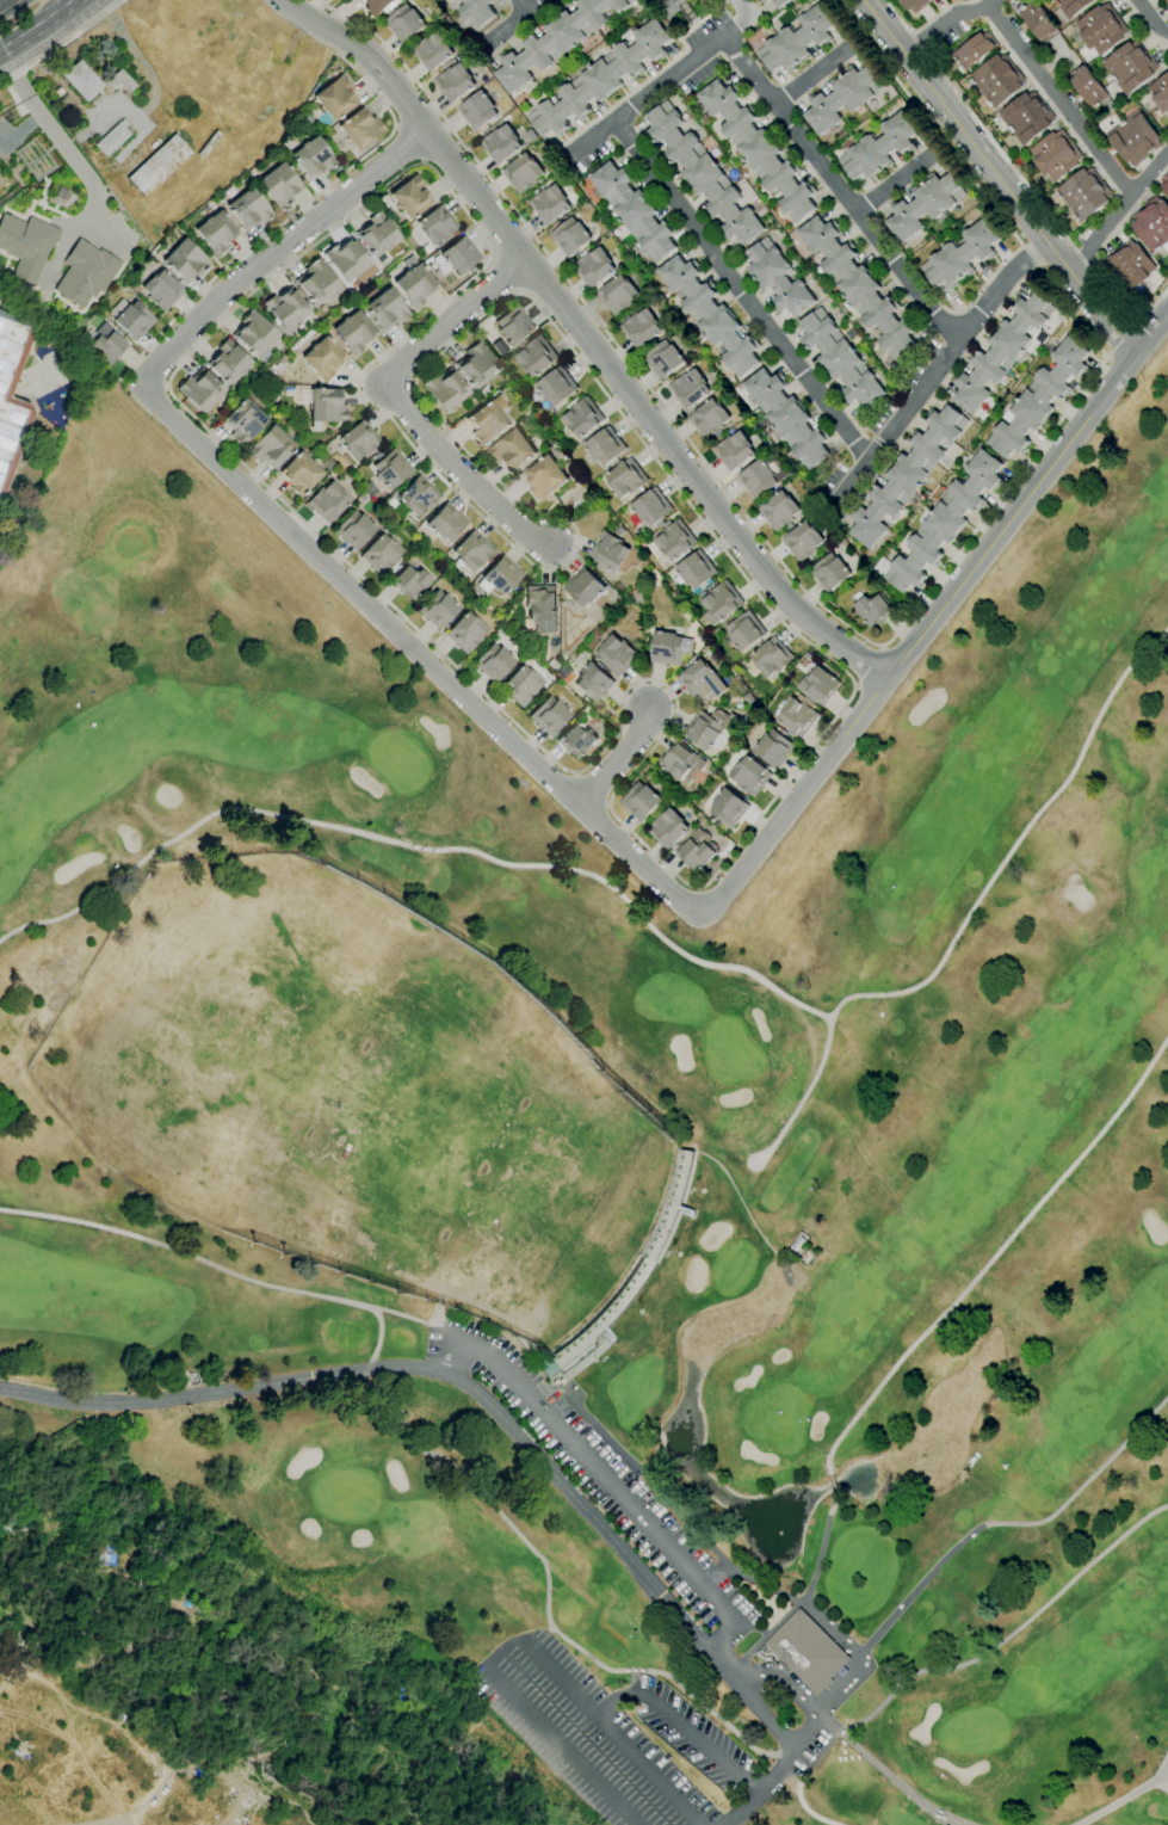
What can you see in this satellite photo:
building: (449, 0)
building: (762, 1)
building: (779, 2)
building: (1166, 2)
road: (6, 4)
building: (916, 5)
building: (378, 6)
building: (1073, 6)
road: (526, 8)
building: (668, 8)
road: (737, 11)
building: (476, 12)
road: (948, 18)
road: (1151, 18)
building: (1038, 21)
building: (404, 24)
road: (521, 24)
road: (39, 27)
building: (1101, 29)
building: (556, 41)
building: (797, 41)
road: (62, 43)
road: (132, 48)
building: (432, 50)
building: (974, 50)
building: (1130, 67)
road: (810, 79)
building: (80, 80)
building: (599, 80)
building: (997, 80)
building: (120, 81)
building: (453, 82)
building: (1089, 88)
road: (653, 91)
building: (1160, 93)
building: (842, 98)
building: (333, 100)
building: (67, 101)
road: (1058, 103)
building: (477, 110)
building: (1026, 117)
building: (305, 118)
road: (397, 127)
building: (360, 128)
road: (55, 132)
building: (113, 137)
building: (1133, 138)
building: (500, 143)
road: (412, 144)
building: (878, 148)
building: (758, 149)
building: (1056, 155)
building: (313, 158)
road: (425, 162)
building: (159, 165)
building: (523, 173)
building: (702, 174)
road: (999, 179)
building: (1164, 181)
road: (1022, 183)
building: (278, 185)
road: (892, 185)
road: (838, 190)
building: (1083, 193)
building: (410, 197)
building: (548, 204)
building: (923, 205)
building: (248, 209)
road: (1118, 210)
building: (634, 211)
road: (289, 217)
building: (1151, 223)
building: (437, 226)
building: (215, 232)
building: (378, 235)
building: (569, 236)
building: (25, 245)
building: (459, 255)
building: (960, 255)
building: (346, 259)
building: (185, 261)
building: (593, 266)
building: (1127, 266)
building: (82, 273)
building: (777, 277)
building: (414, 282)
building: (317, 283)
building: (857, 285)
building: (161, 290)
building: (617, 295)
road: (740, 296)
building: (285, 308)
building: (385, 310)
building: (710, 314)
building: (130, 319)
building: (513, 326)
building: (639, 328)
building: (353, 332)
building: (255, 335)
road: (1118, 339)
road: (582, 341)
building: (105, 344)
building: (1001, 351)
building: (536, 356)
road: (166, 357)
building: (322, 358)
building: (662, 359)
building: (839, 359)
building: (229, 362)
building: (477, 366)
road: (938, 368)
building: (556, 386)
building: (688, 388)
building: (200, 390)
building: (445, 390)
building: (1039, 399)
road: (406, 401)
building: (326, 407)
building: (14, 408)
building: (582, 418)
building: (709, 418)
building: (785, 418)
building: (488, 420)
building: (243, 421)
building: (359, 439)
building: (605, 445)
building: (271, 448)
building: (513, 450)
building: (733, 451)
road: (650, 455)
building: (390, 468)
building: (301, 474)
building: (906, 476)
building: (545, 477)
building: (626, 479)
building: (756, 479)
building: (416, 495)
road: (1028, 498)
building: (326, 501)
building: (651, 507)
building: (779, 511)
building: (445, 522)
building: (941, 524)
building: (353, 530)
building: (674, 541)
building: (802, 541)
building: (470, 551)
building: (608, 551)
building: (379, 554)
building: (696, 569)
building: (829, 572)
building: (499, 577)
building: (409, 582)
building: (583, 587)
building: (718, 602)
building: (540, 608)
building: (437, 609)
building: (873, 609)
building: (744, 631)
building: (465, 633)
road: (857, 635)
building: (593, 643)
building: (668, 648)
building: (617, 655)
building: (772, 656)
building: (493, 662)
building: (551, 665)
road: (866, 666)
building: (561, 672)
building: (702, 682)
building: (593, 683)
building: (521, 685)
building: (818, 686)
building: (749, 701)
building: (798, 715)
building: (548, 716)
building: (746, 719)
building: (709, 727)
building: (576, 741)
building: (774, 748)
road: (531, 758)
road: (619, 758)
building: (680, 762)
building: (749, 777)
road: (798, 800)
building: (639, 802)
building: (728, 808)
building: (666, 828)
road: (418, 846)
building: (696, 851)
road: (966, 912)
park: (619, 1130)
road: (994, 1254)
road: (206, 1263)
building: (645, 1264)
road: (395, 1314)
road: (435, 1375)
road: (389, 1399)
road: (604, 1476)
parking lot: (693, 1554)
road: (938, 1562)
road: (1009, 1633)
road: (521, 1651)
building: (805, 1652)
road: (599, 1663)
road: (836, 1681)
road: (812, 1722)
river: (194, 1727)
road: (678, 1727)
road: (885, 1772)
road: (762, 1787)
building: (1167, 1788)
road: (1127, 1798)

